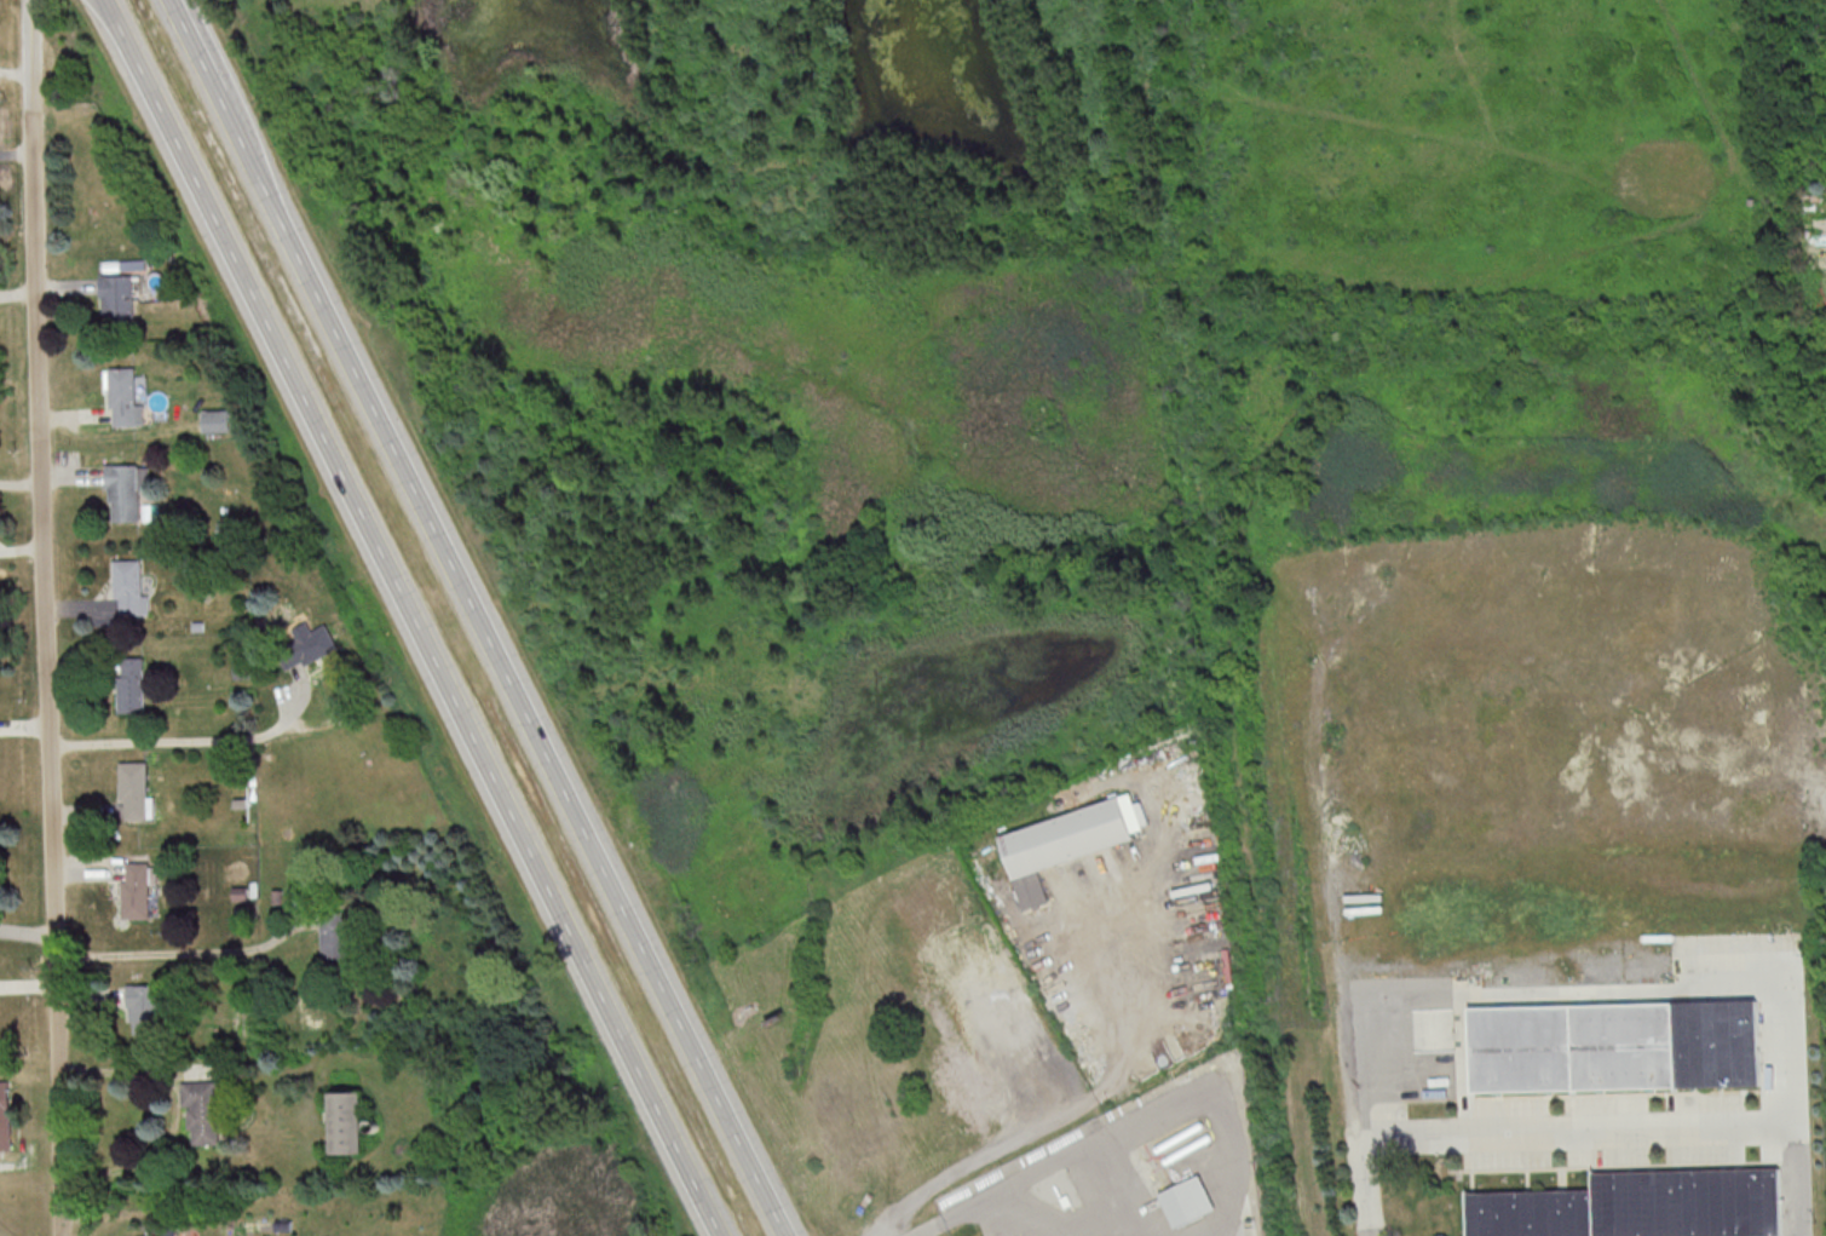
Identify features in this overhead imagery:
road: (211, 63)
building: (113, 300)
building: (1825, 305)
building: (122, 398)
building: (217, 421)
building: (121, 493)
building: (127, 590)
road: (42, 617)
road: (419, 617)
building: (305, 646)
road: (518, 680)
building: (128, 684)
road: (175, 737)
building: (131, 791)
building: (1065, 843)
building: (133, 891)
building: (333, 937)
road: (178, 954)
road: (1370, 990)
building: (143, 1008)
building: (1613, 1046)
road: (1060, 1104)
building: (202, 1113)
building: (4, 1117)
building: (342, 1121)
road: (1123, 1127)
road: (6, 1162)
road: (1792, 1180)
road: (1365, 1185)
building: (1185, 1200)
building: (1636, 1206)
road: (1032, 1212)
road: (1117, 1225)
building: (155, 1234)

